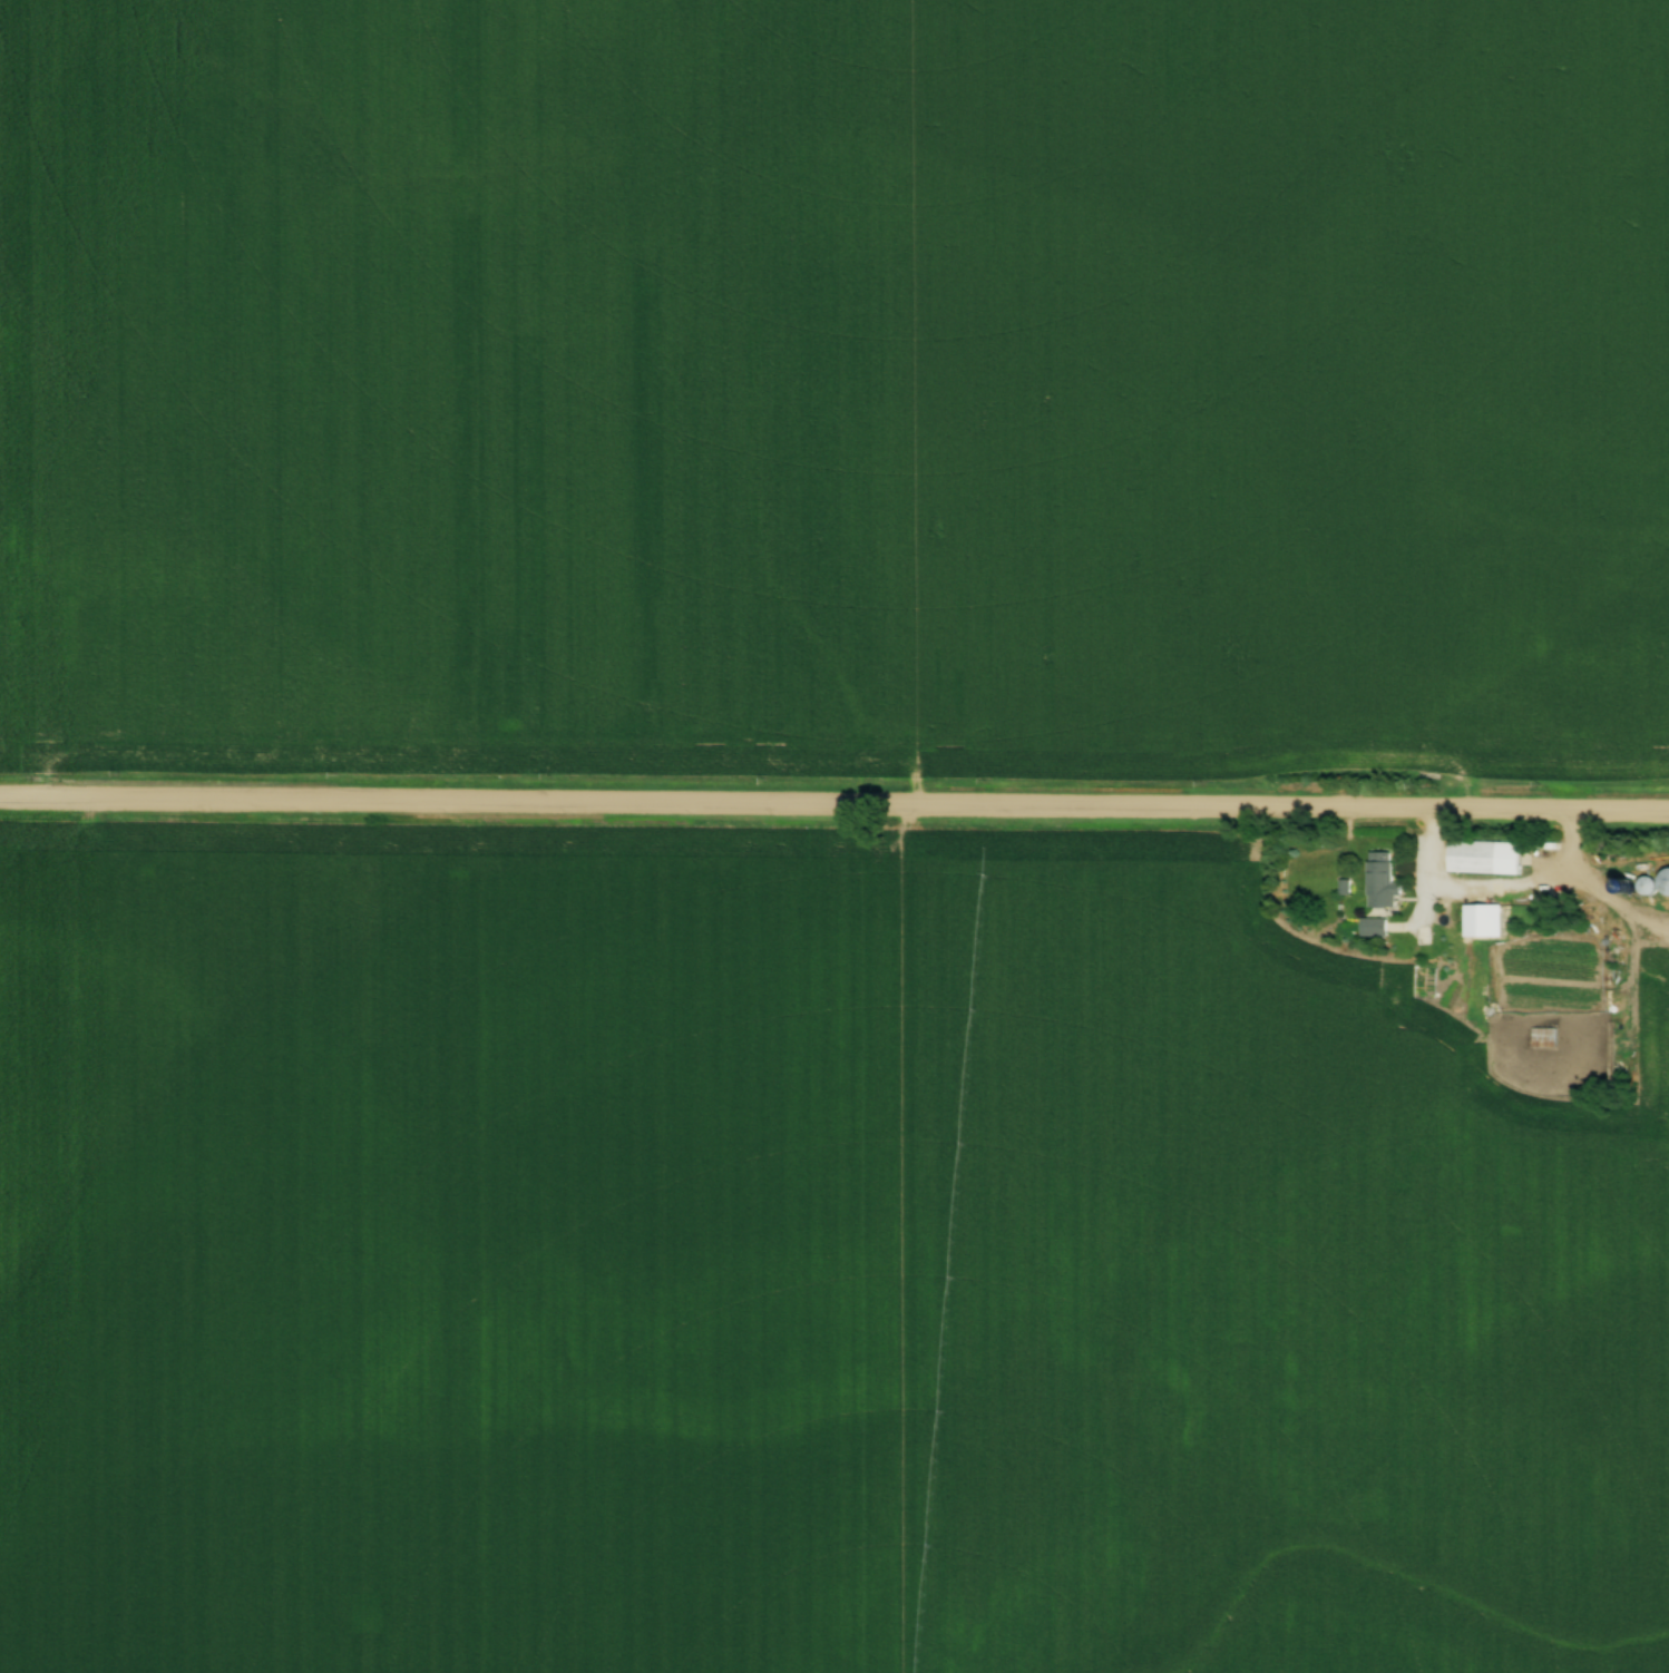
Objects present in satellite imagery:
road: (833, 806)
building: (1468, 857)
building: (1377, 880)
road: (1581, 896)
building: (1477, 921)
building: (1369, 928)
building: (1540, 1039)

